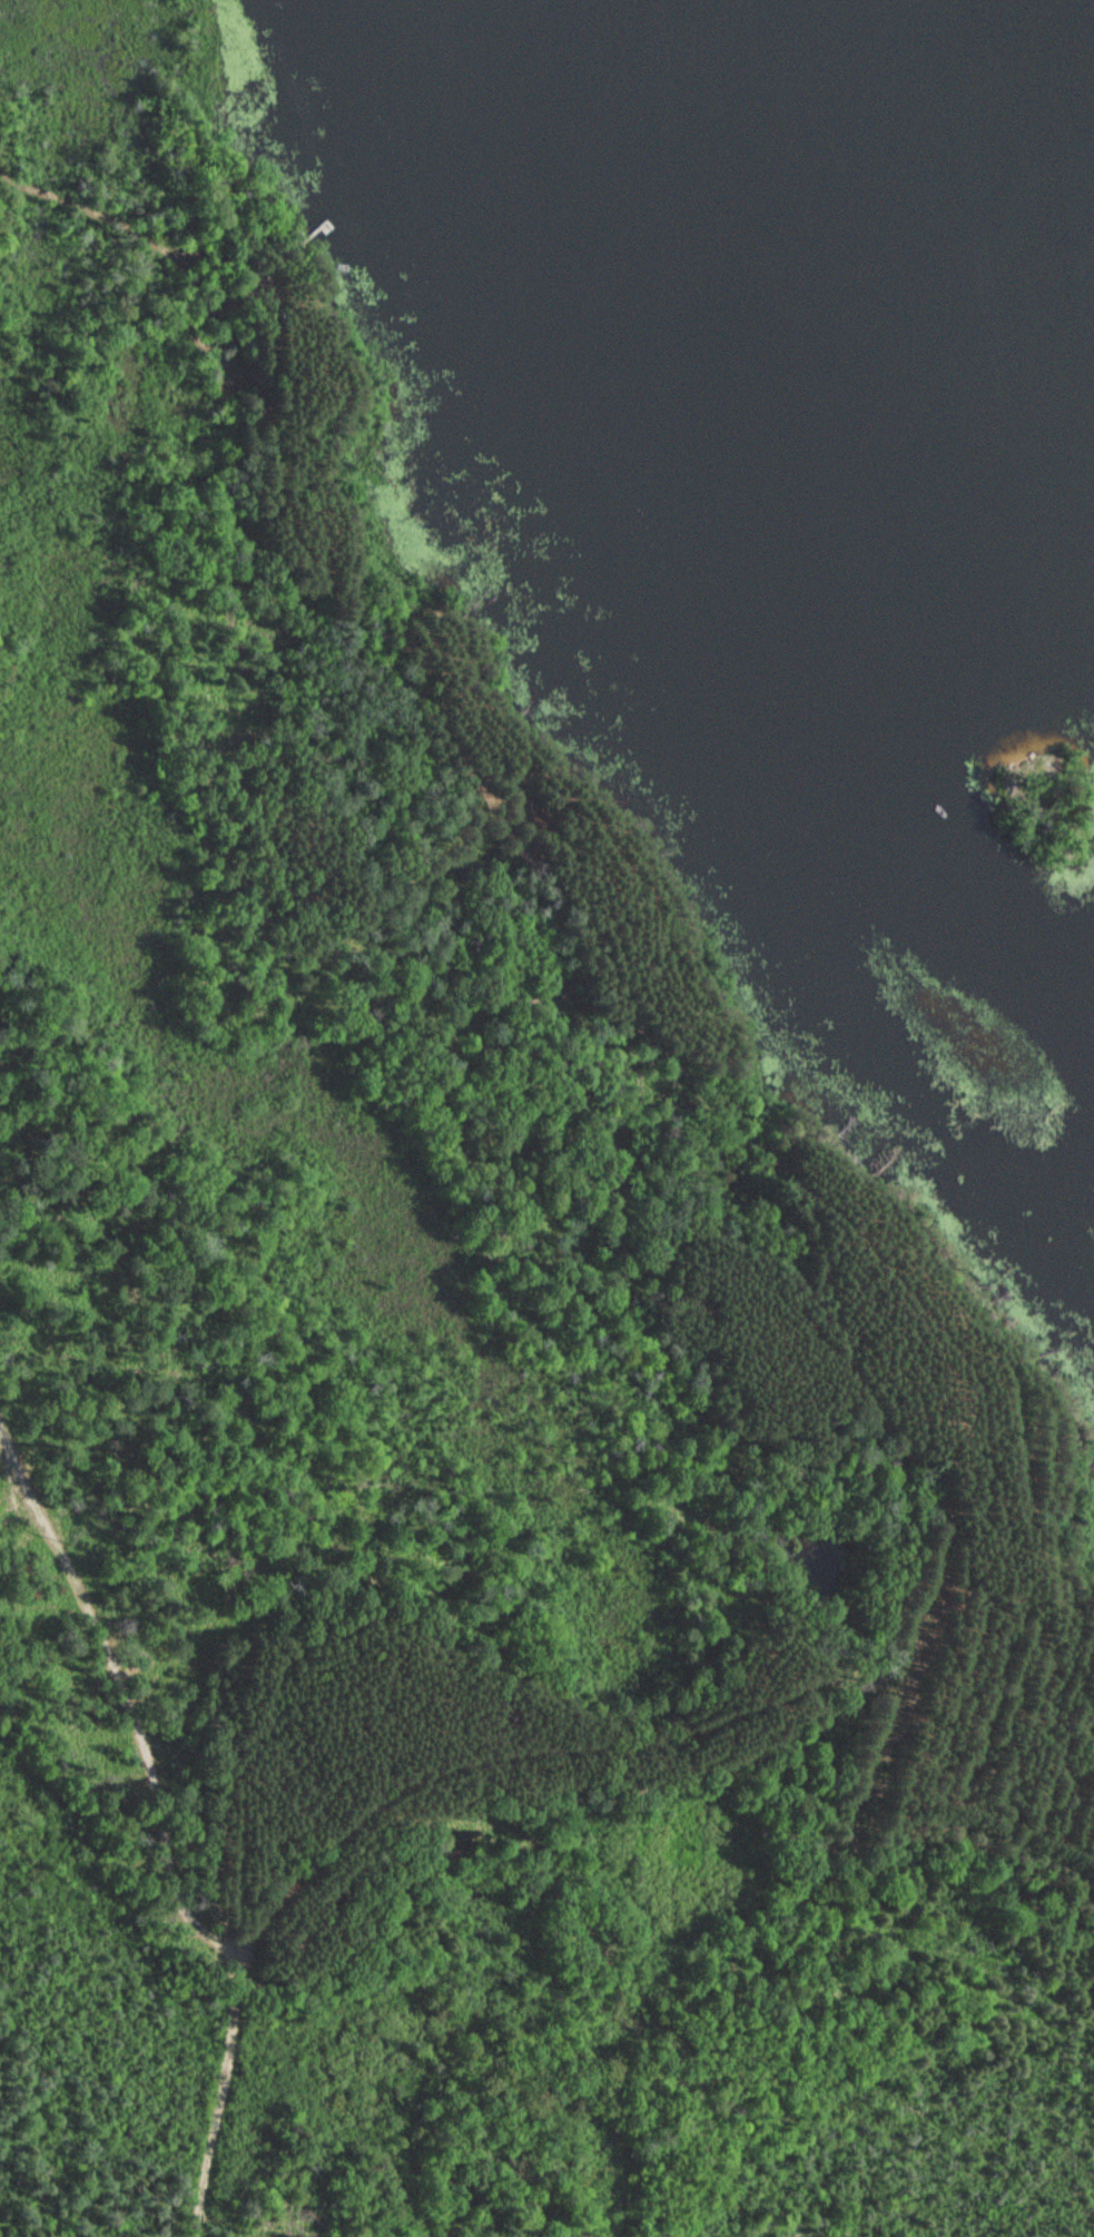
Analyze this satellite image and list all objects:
road: (856, 1383)

